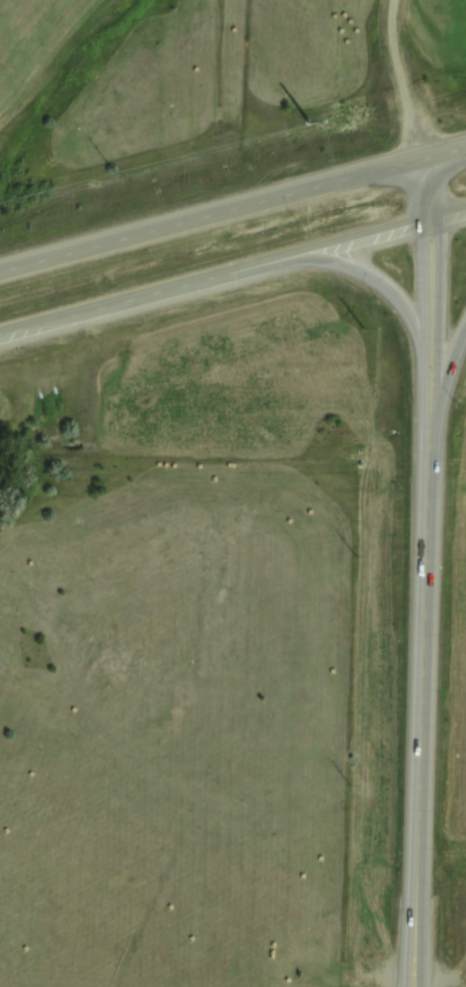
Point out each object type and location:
road: (443, 172)
road: (232, 208)
road: (233, 270)
road: (429, 284)
road: (400, 306)
road: (447, 368)
road: (424, 590)
road: (412, 877)
road: (421, 877)

